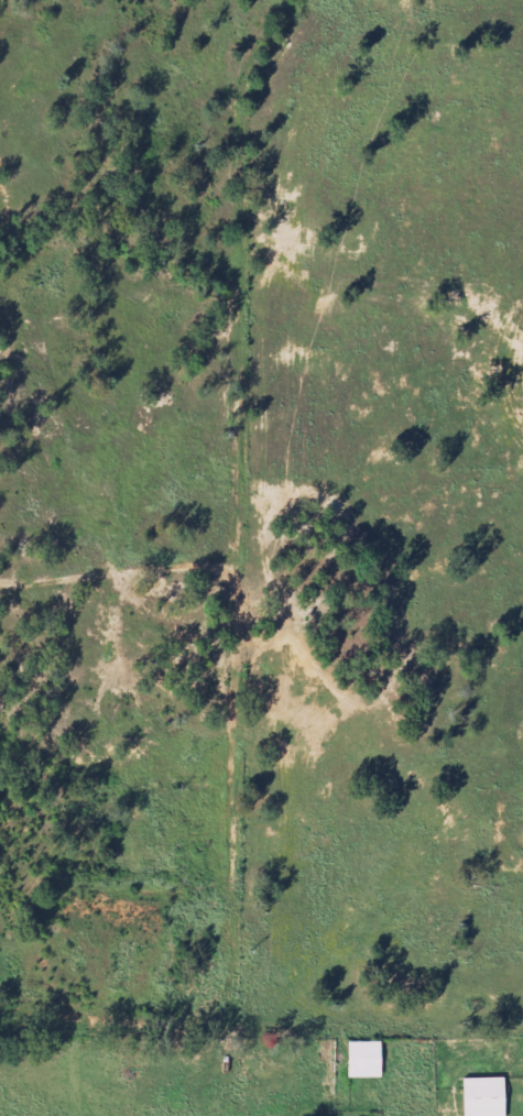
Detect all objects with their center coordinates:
building: (369, 1060)
building: (490, 1096)

